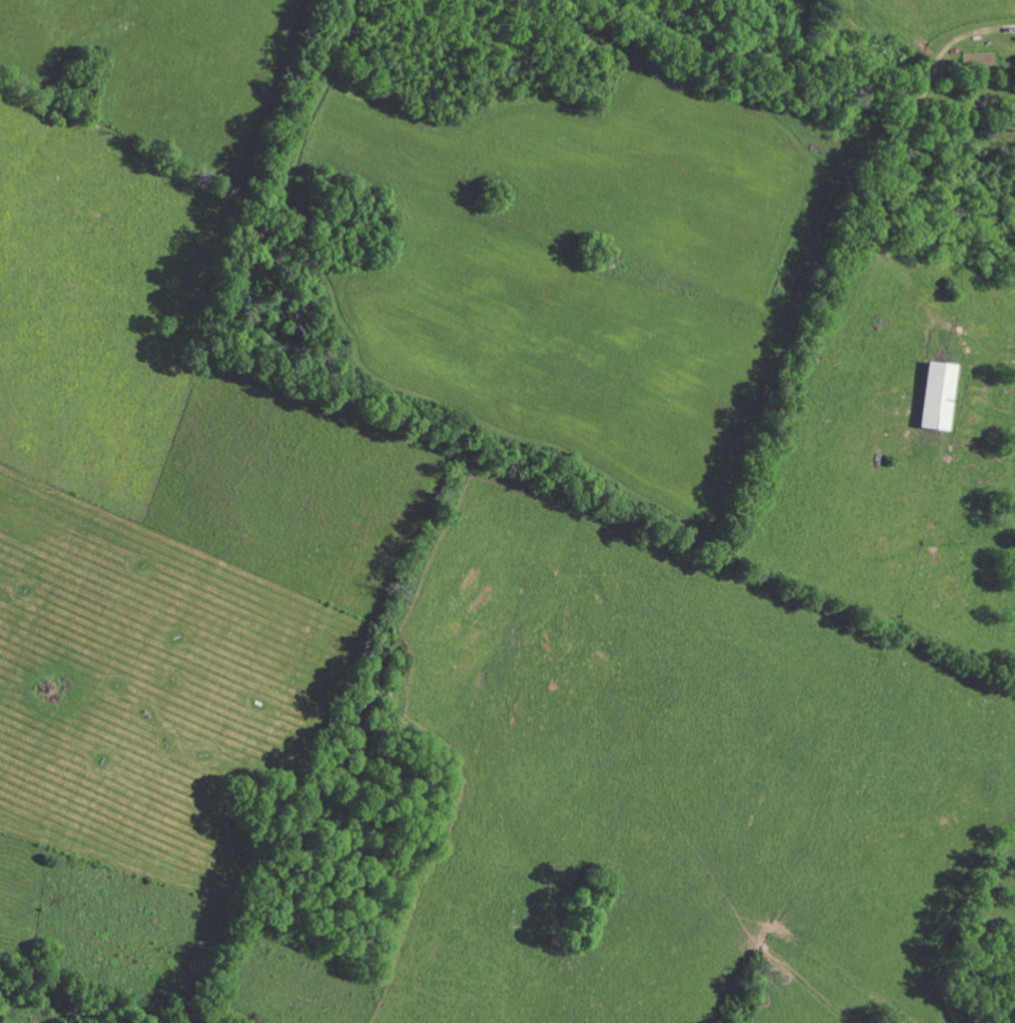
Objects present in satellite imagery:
building: (936, 397)

